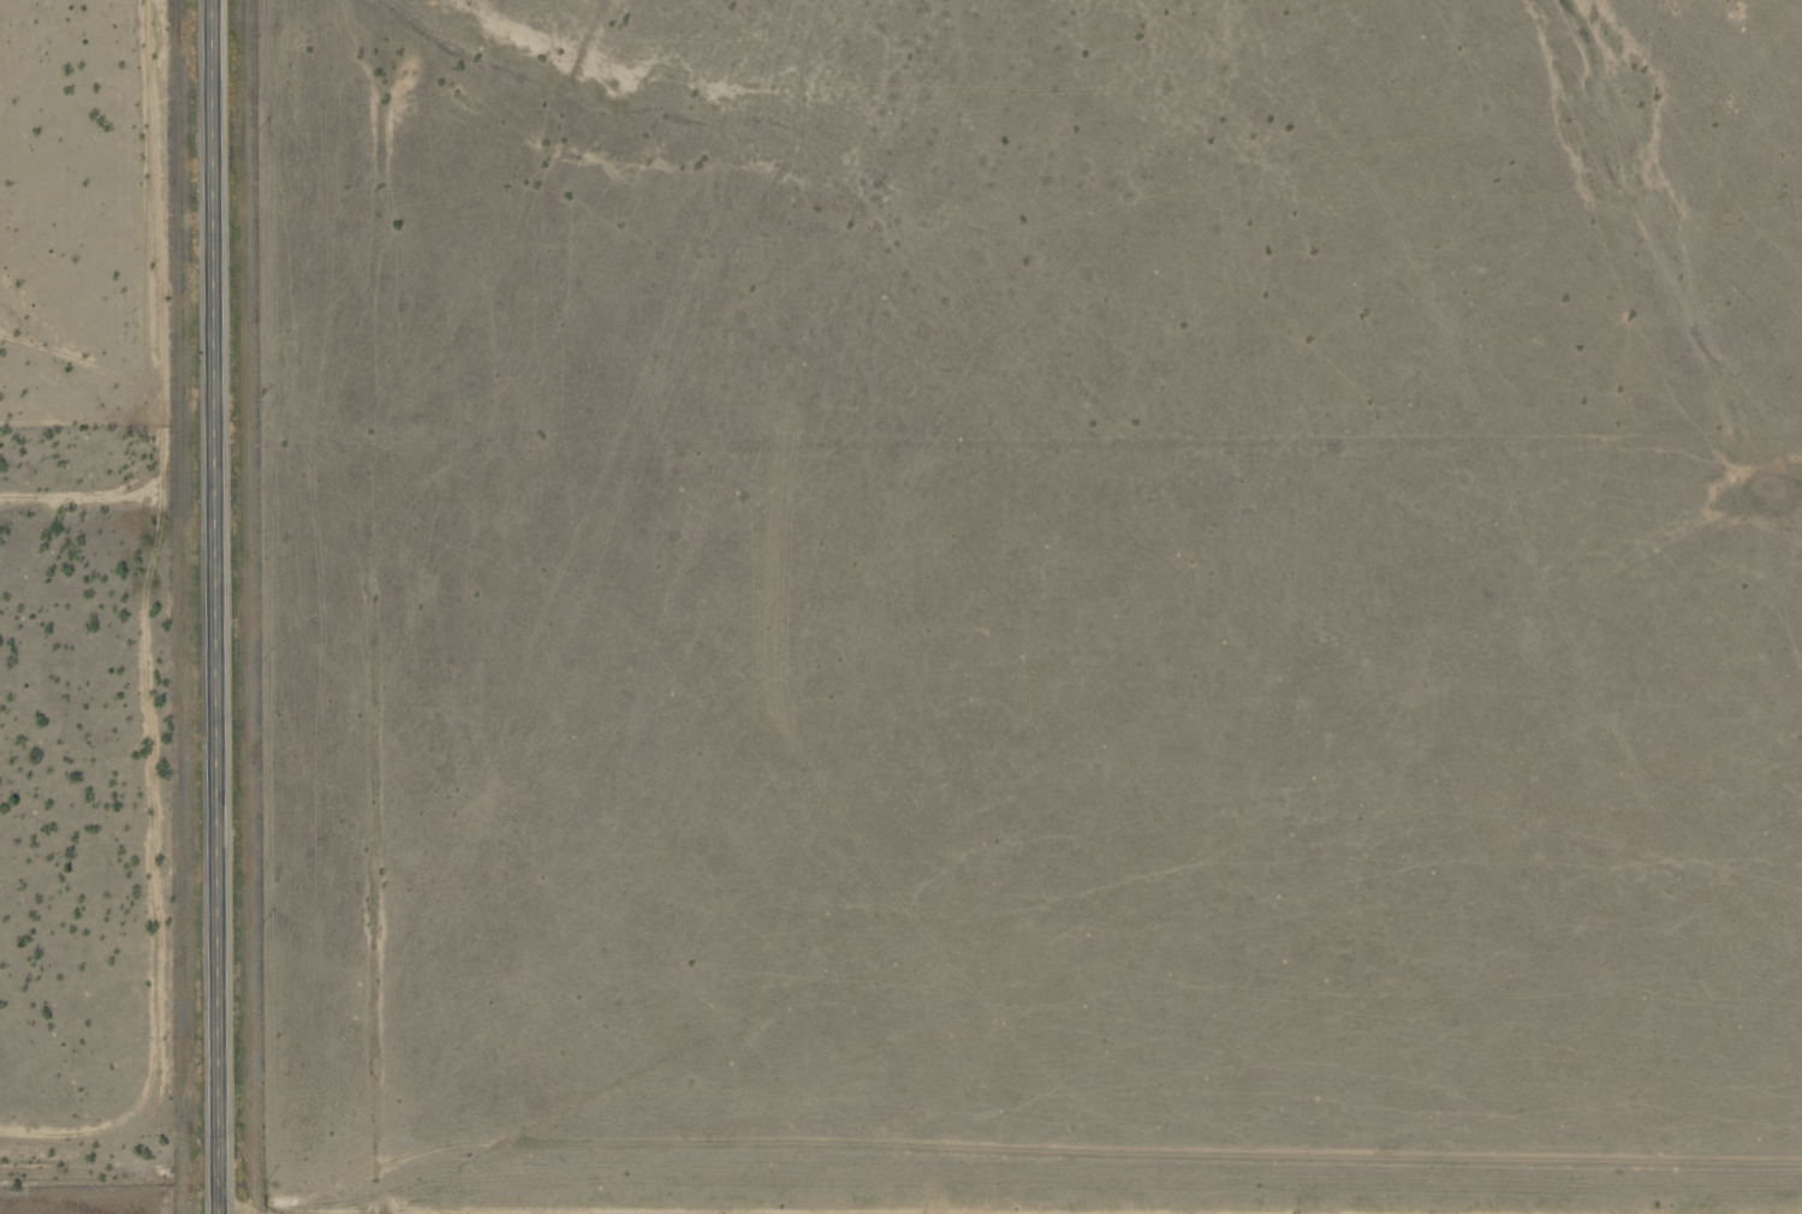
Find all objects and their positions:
road: (208, 607)
road: (81, 1188)
road: (276, 1209)

